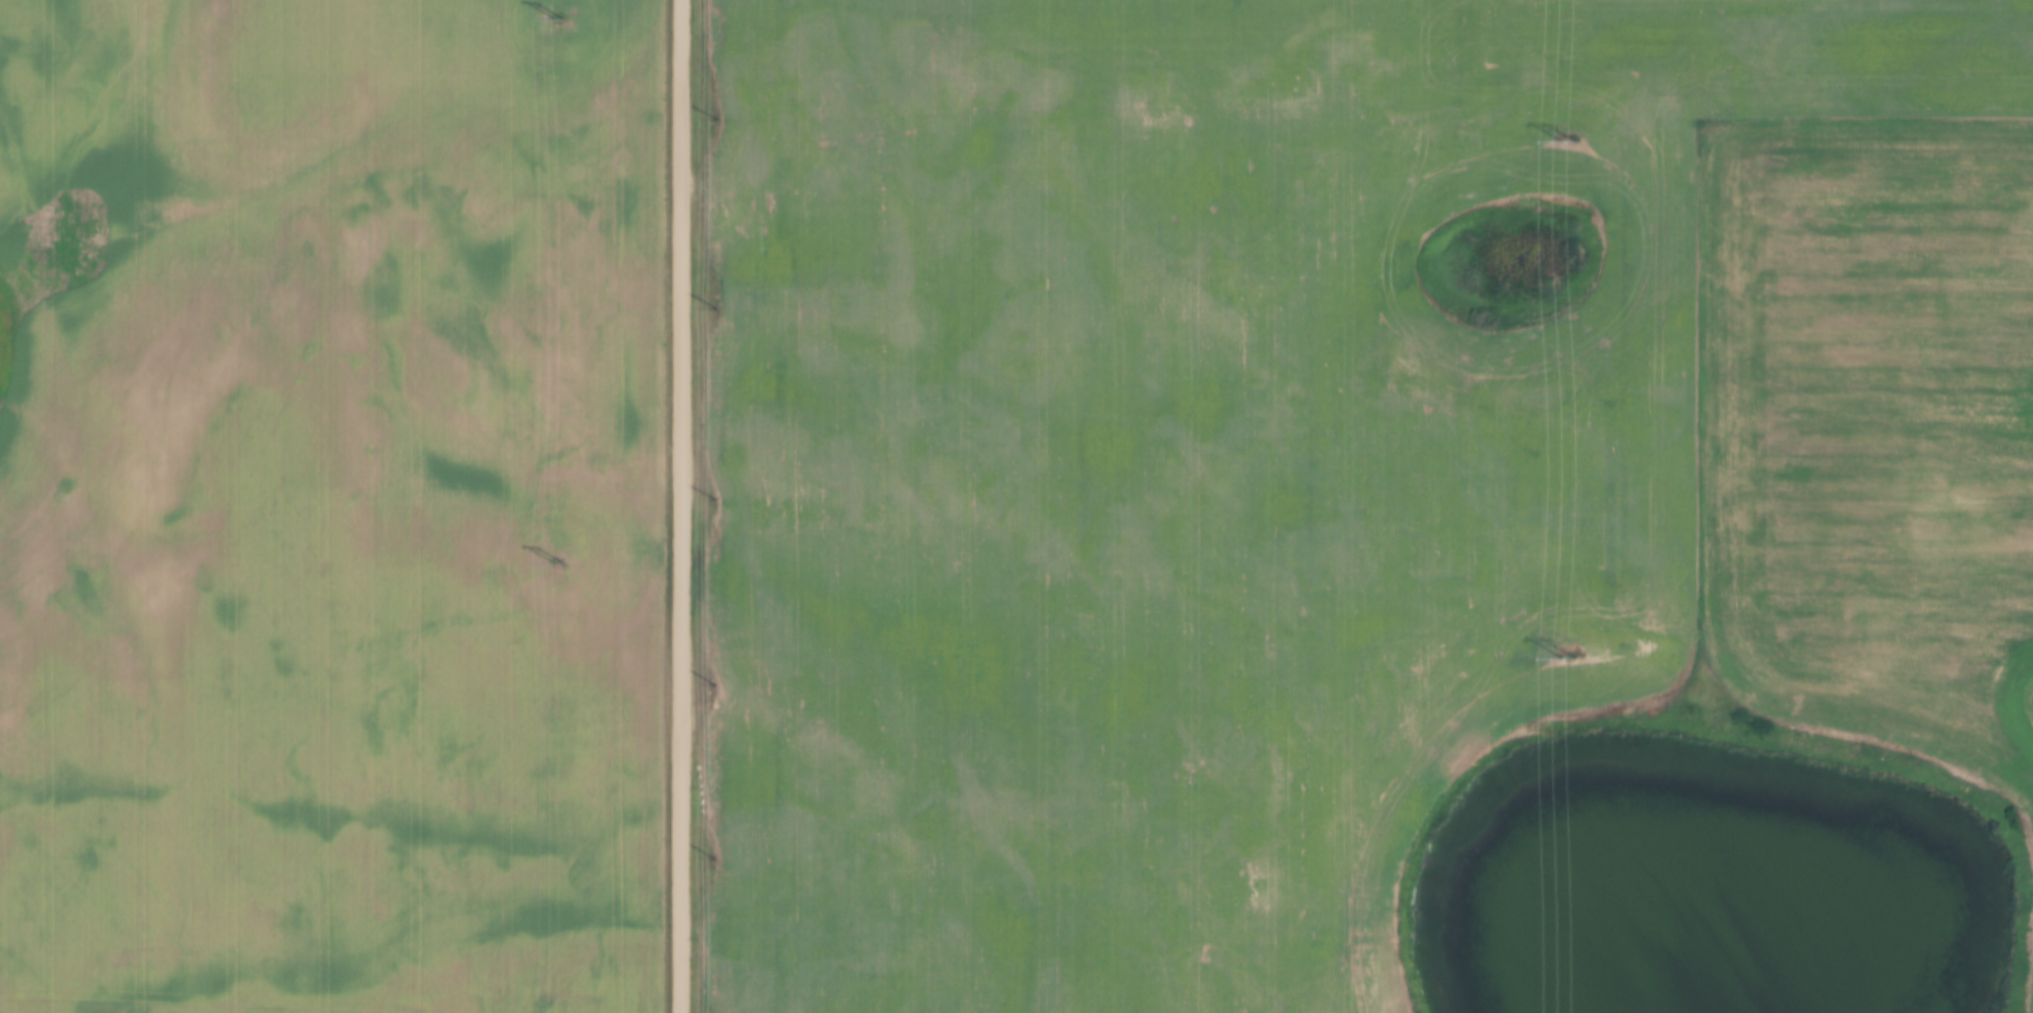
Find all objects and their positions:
power tower: (1568, 142)
road: (681, 506)
power tower: (1572, 660)

